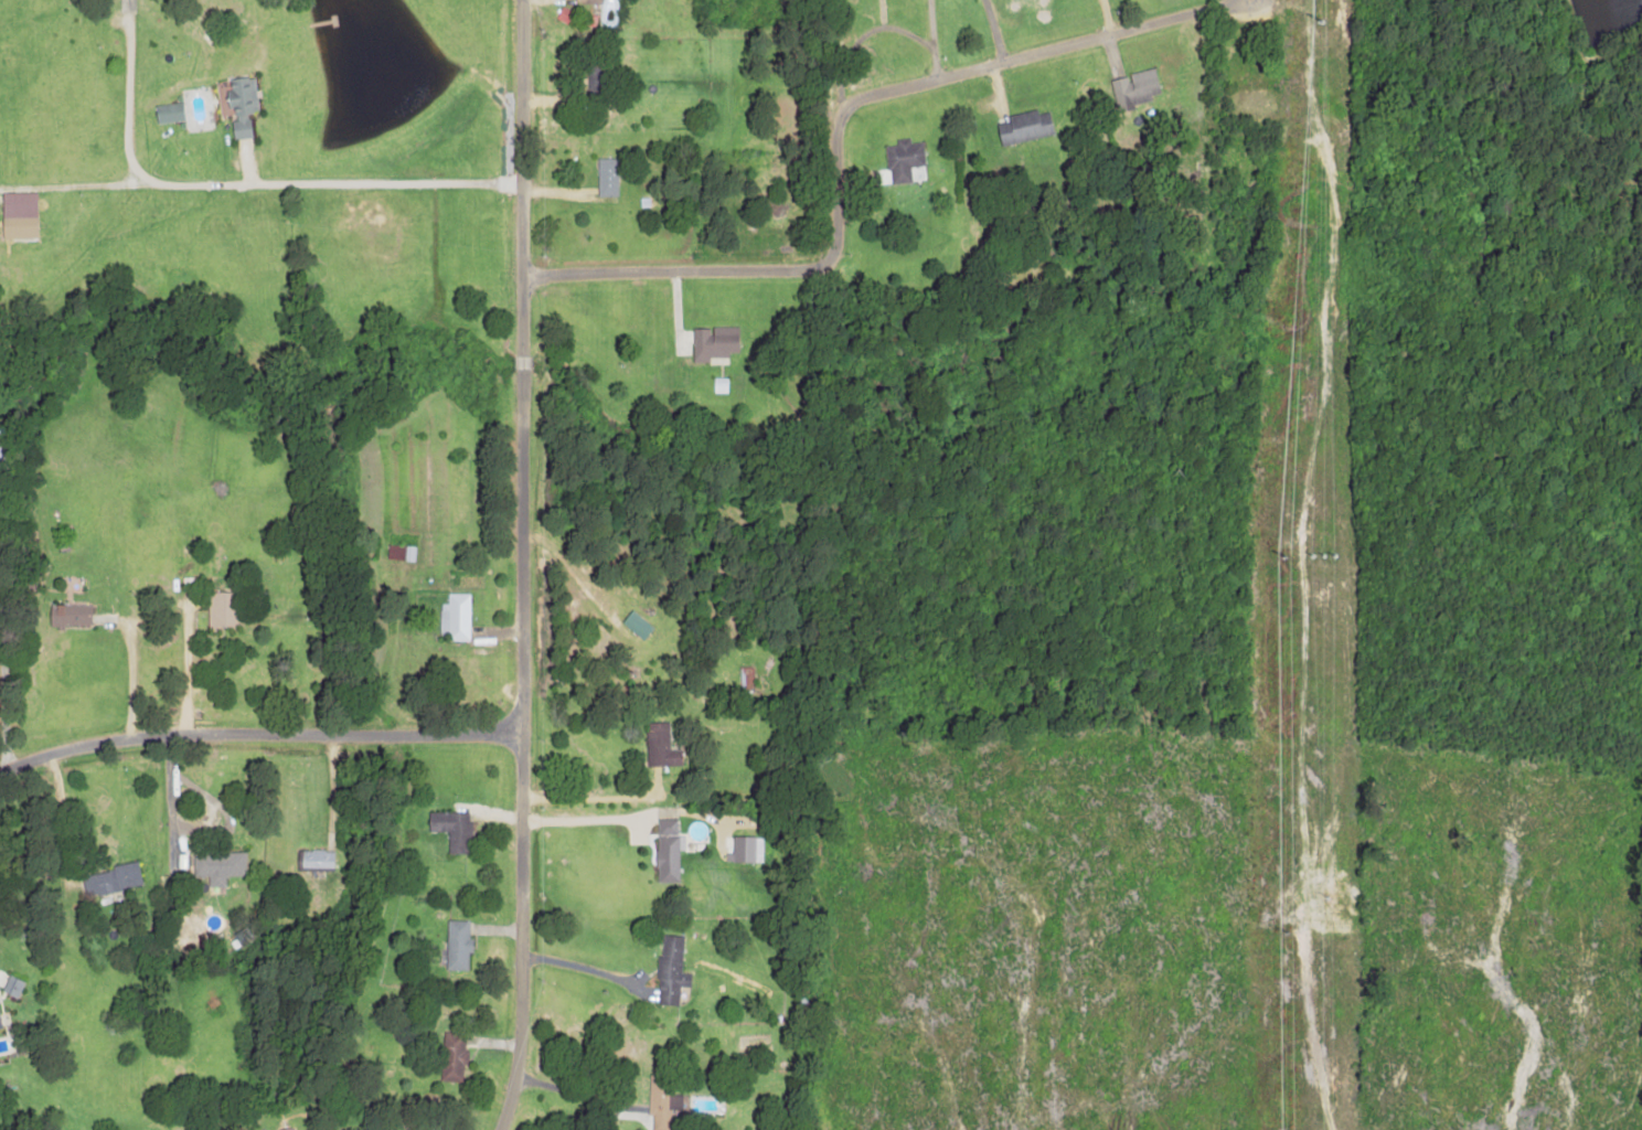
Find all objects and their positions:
building: (587, 1)
building: (1133, 89)
building: (241, 104)
building: (168, 113)
road: (834, 127)
building: (1023, 127)
building: (903, 159)
building: (606, 177)
building: (18, 225)
building: (713, 343)
building: (0, 461)
road: (519, 566)
building: (221, 608)
building: (70, 615)
building: (455, 617)
building: (636, 623)
road: (258, 734)
building: (659, 745)
building: (451, 829)
building: (745, 849)
building: (667, 850)
building: (316, 860)
building: (217, 865)
building: (110, 878)
building: (457, 944)
building: (670, 970)
building: (286, 1128)

